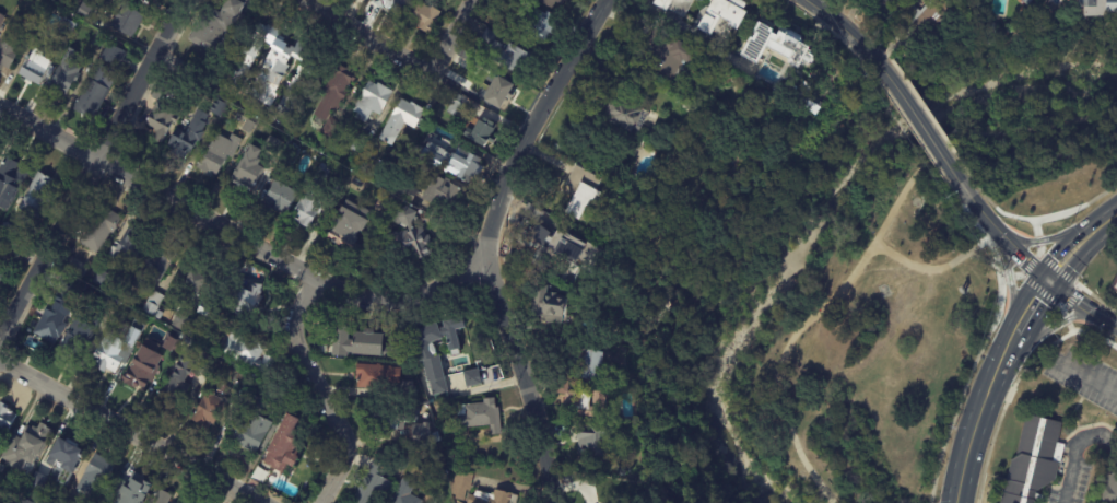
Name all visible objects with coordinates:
building: (133, 0)
building: (365, 0)
building: (1033, 0)
building: (404, 1)
building: (109, 2)
building: (552, 2)
building: (512, 3)
building: (1105, 3)
building: (385, 4)
building: (897, 4)
building: (670, 9)
building: (1030, 10)
building: (84, 11)
building: (719, 14)
building: (1, 16)
building: (930, 17)
building: (425, 19)
building: (127, 21)
building: (69, 23)
building: (217, 25)
building: (537, 25)
road: (849, 31)
road: (371, 32)
road: (452, 32)
building: (99, 40)
building: (11, 43)
building: (121, 45)
building: (792, 45)
building: (666, 52)
building: (117, 55)
building: (507, 56)
building: (35, 68)
building: (273, 71)
building: (64, 73)
building: (93, 91)
building: (495, 92)
building: (336, 93)
building: (109, 98)
building: (372, 102)
building: (457, 105)
building: (652, 106)
building: (217, 107)
building: (630, 113)
park: (1034, 114)
building: (162, 120)
building: (401, 121)
road: (921, 121)
building: (248, 125)
road: (296, 128)
road: (50, 131)
building: (190, 134)
building: (482, 134)
building: (275, 143)
building: (360, 147)
building: (219, 152)
building: (290, 155)
building: (455, 164)
road: (94, 168)
building: (246, 172)
building: (10, 180)
building: (336, 189)
building: (407, 192)
building: (38, 194)
building: (583, 194)
building: (280, 196)
building: (442, 196)
building: (313, 197)
building: (387, 204)
building: (402, 207)
building: (404, 217)
building: (350, 225)
building: (99, 227)
road: (993, 227)
building: (5, 229)
building: (539, 235)
road: (1075, 235)
road: (1037, 238)
building: (2, 242)
building: (412, 244)
road: (490, 244)
building: (131, 246)
road: (871, 246)
building: (565, 247)
road: (1083, 253)
road: (286, 262)
building: (155, 266)
building: (77, 267)
road: (940, 267)
building: (1, 273)
traffic signals: (1038, 273)
road: (1007, 274)
building: (102, 278)
road: (1045, 279)
building: (190, 280)
traffic signals: (1053, 285)
building: (245, 297)
road: (1073, 300)
building: (153, 302)
building: (111, 303)
building: (551, 306)
building: (208, 309)
road: (1035, 309)
park: (812, 315)
road: (997, 315)
building: (55, 317)
road: (1105, 319)
building: (180, 321)
building: (141, 324)
building: (452, 331)
road: (1048, 332)
building: (82, 335)
building: (364, 343)
building: (172, 344)
building: (111, 350)
building: (247, 350)
road: (993, 350)
building: (431, 361)
building: (209, 362)
building: (589, 364)
building: (142, 366)
building: (377, 376)
building: (472, 377)
road: (1092, 378)
building: (177, 383)
building: (409, 385)
building: (244, 387)
road: (999, 387)
road: (321, 390)
building: (578, 399)
building: (209, 408)
building: (481, 416)
building: (5, 418)
building: (396, 418)
building: (437, 419)
building: (393, 430)
building: (250, 431)
building: (422, 431)
road: (127, 433)
building: (436, 436)
building: (593, 440)
building: (284, 445)
building: (26, 447)
road: (1072, 449)
building: (67, 453)
building: (1035, 460)
building: (1, 467)
road: (963, 469)
building: (622, 470)
building: (95, 476)
building: (37, 479)
building: (461, 482)
building: (0, 483)
building: (375, 483)
building: (132, 489)
building: (1112, 489)
building: (405, 493)
building: (162, 498)
building: (493, 498)
building: (24, 499)
building: (68, 501)

